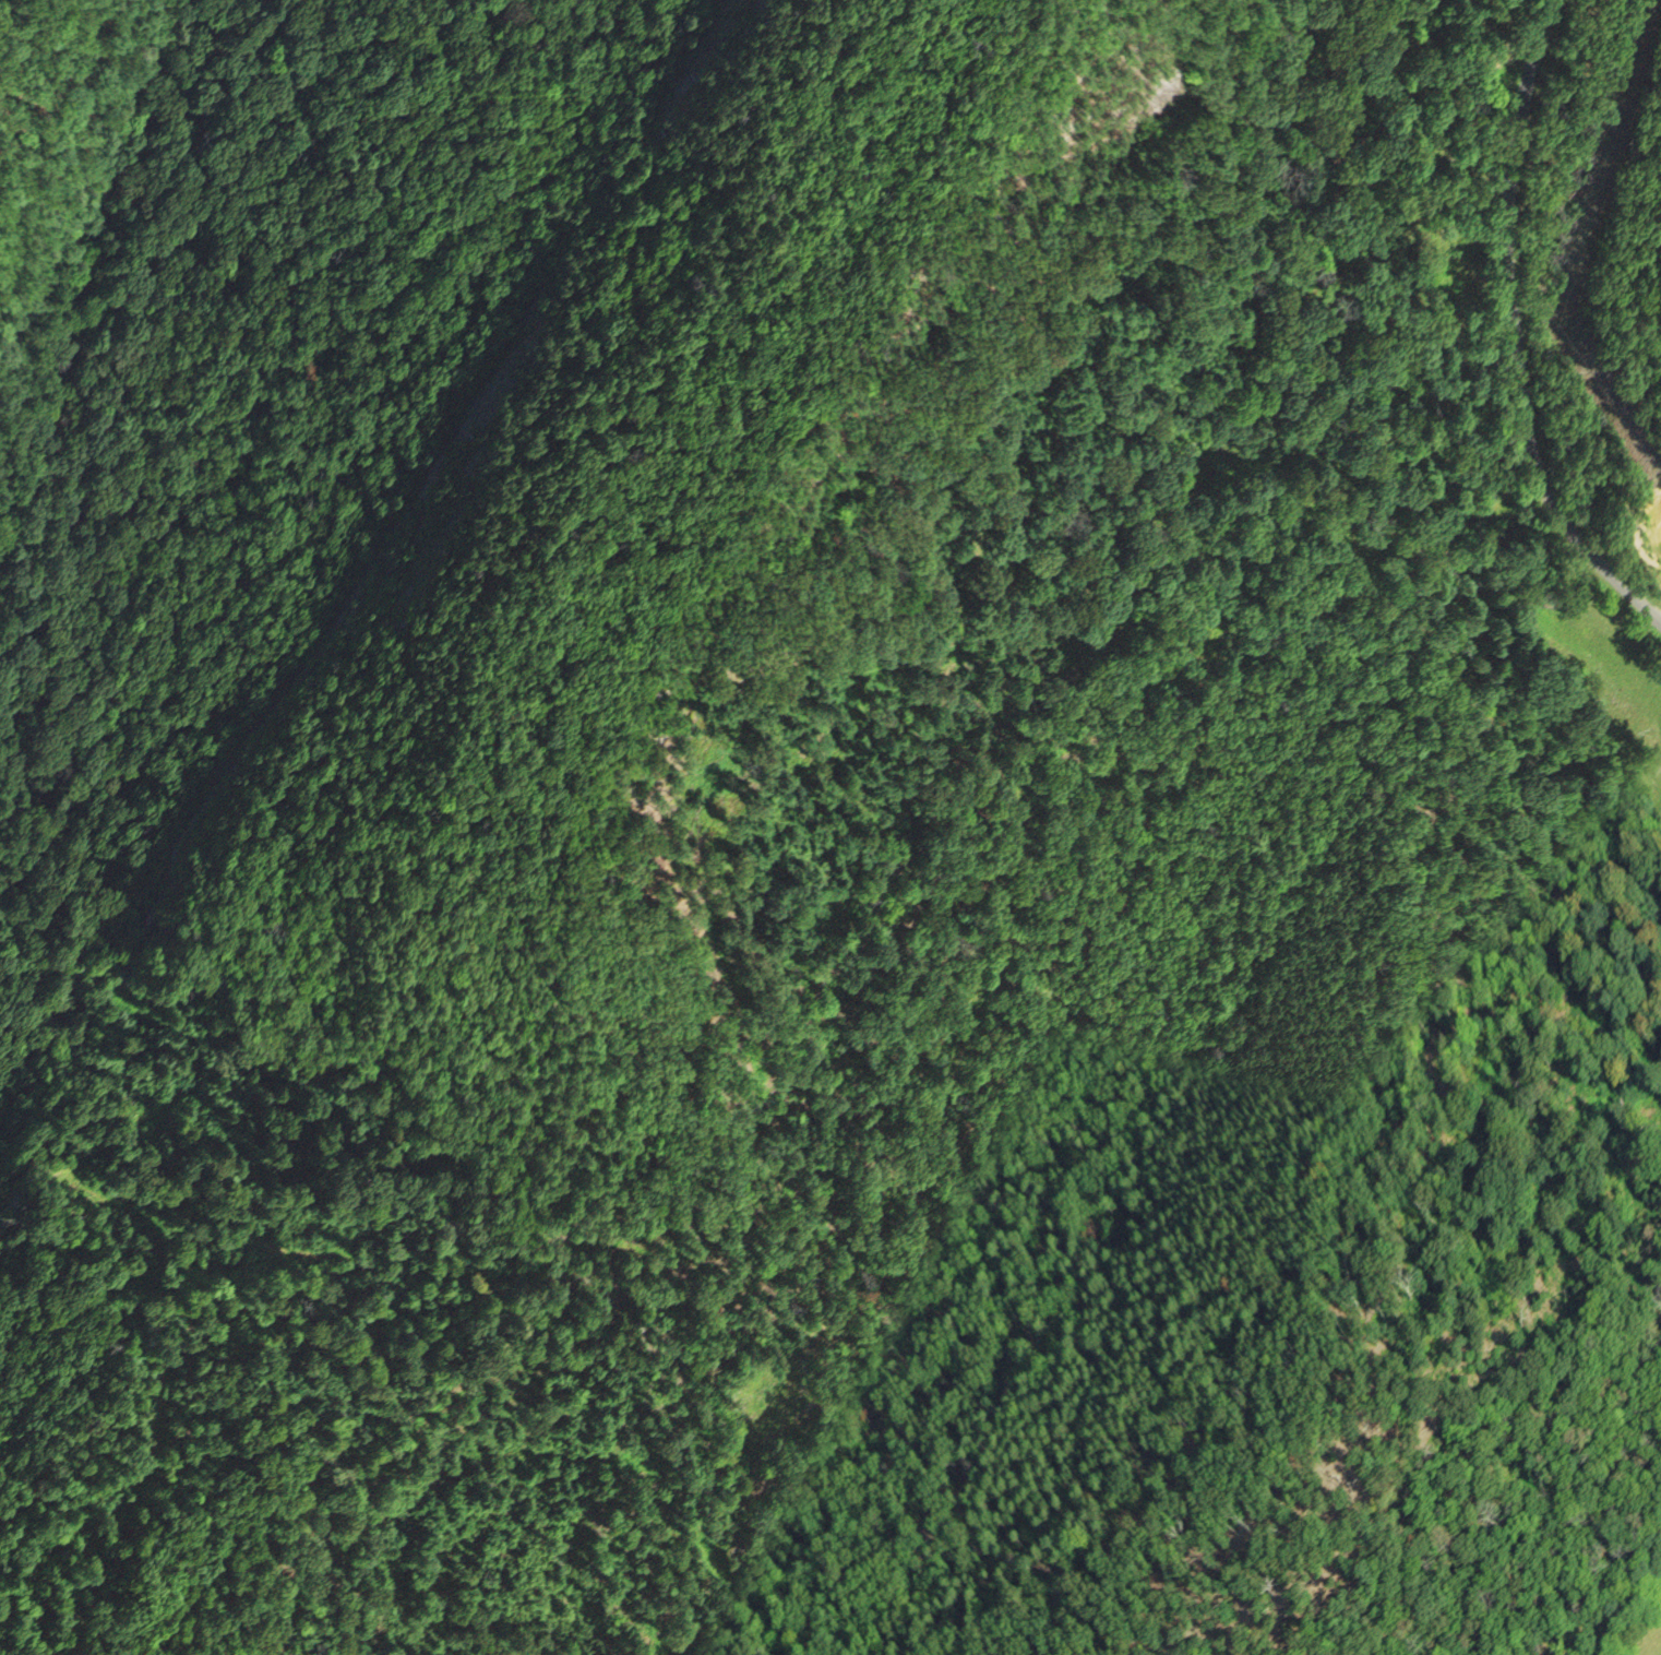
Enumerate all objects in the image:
road: (1511, 332)

